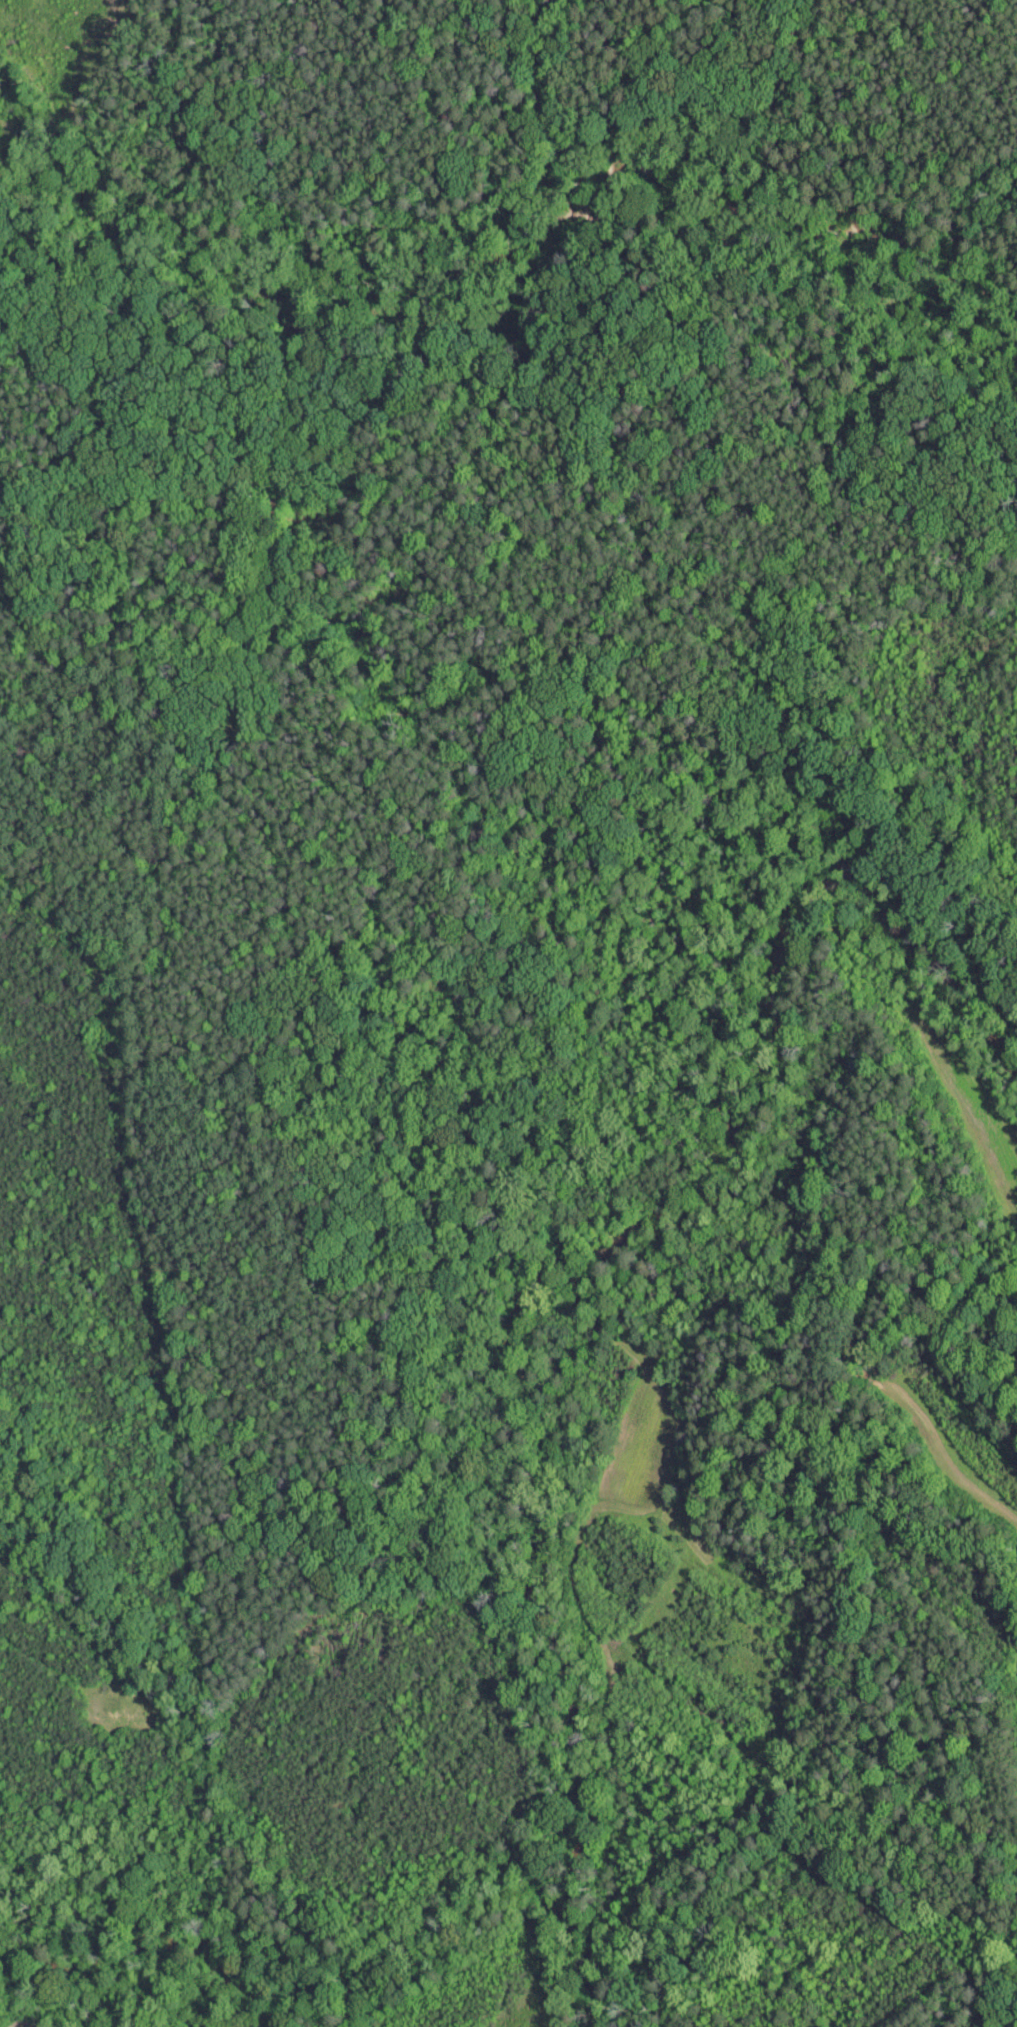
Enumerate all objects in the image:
road: (992, 1622)

